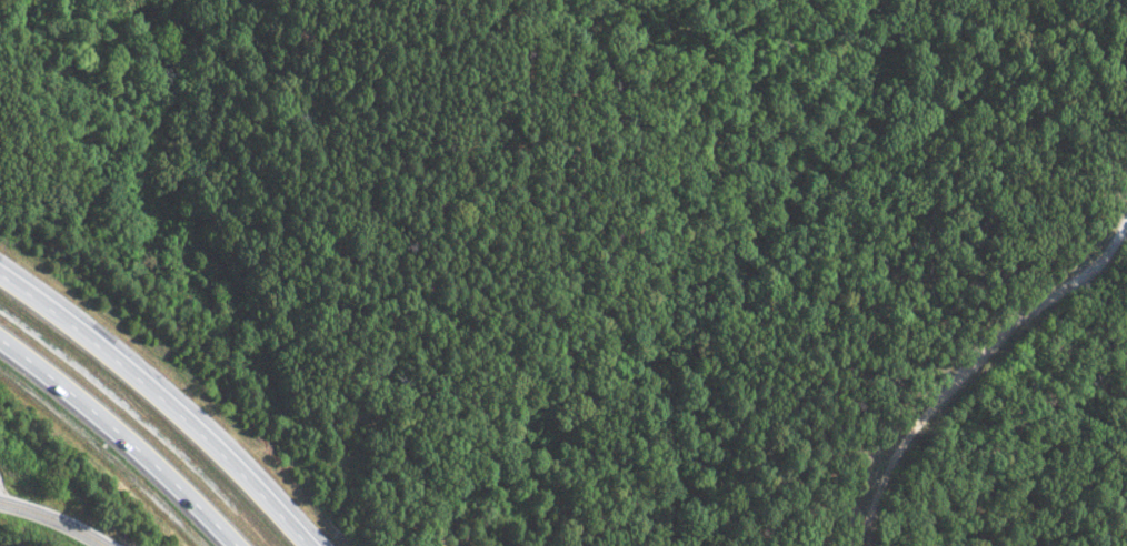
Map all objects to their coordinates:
road: (969, 364)
road: (157, 405)
road: (120, 436)
road: (52, 523)

